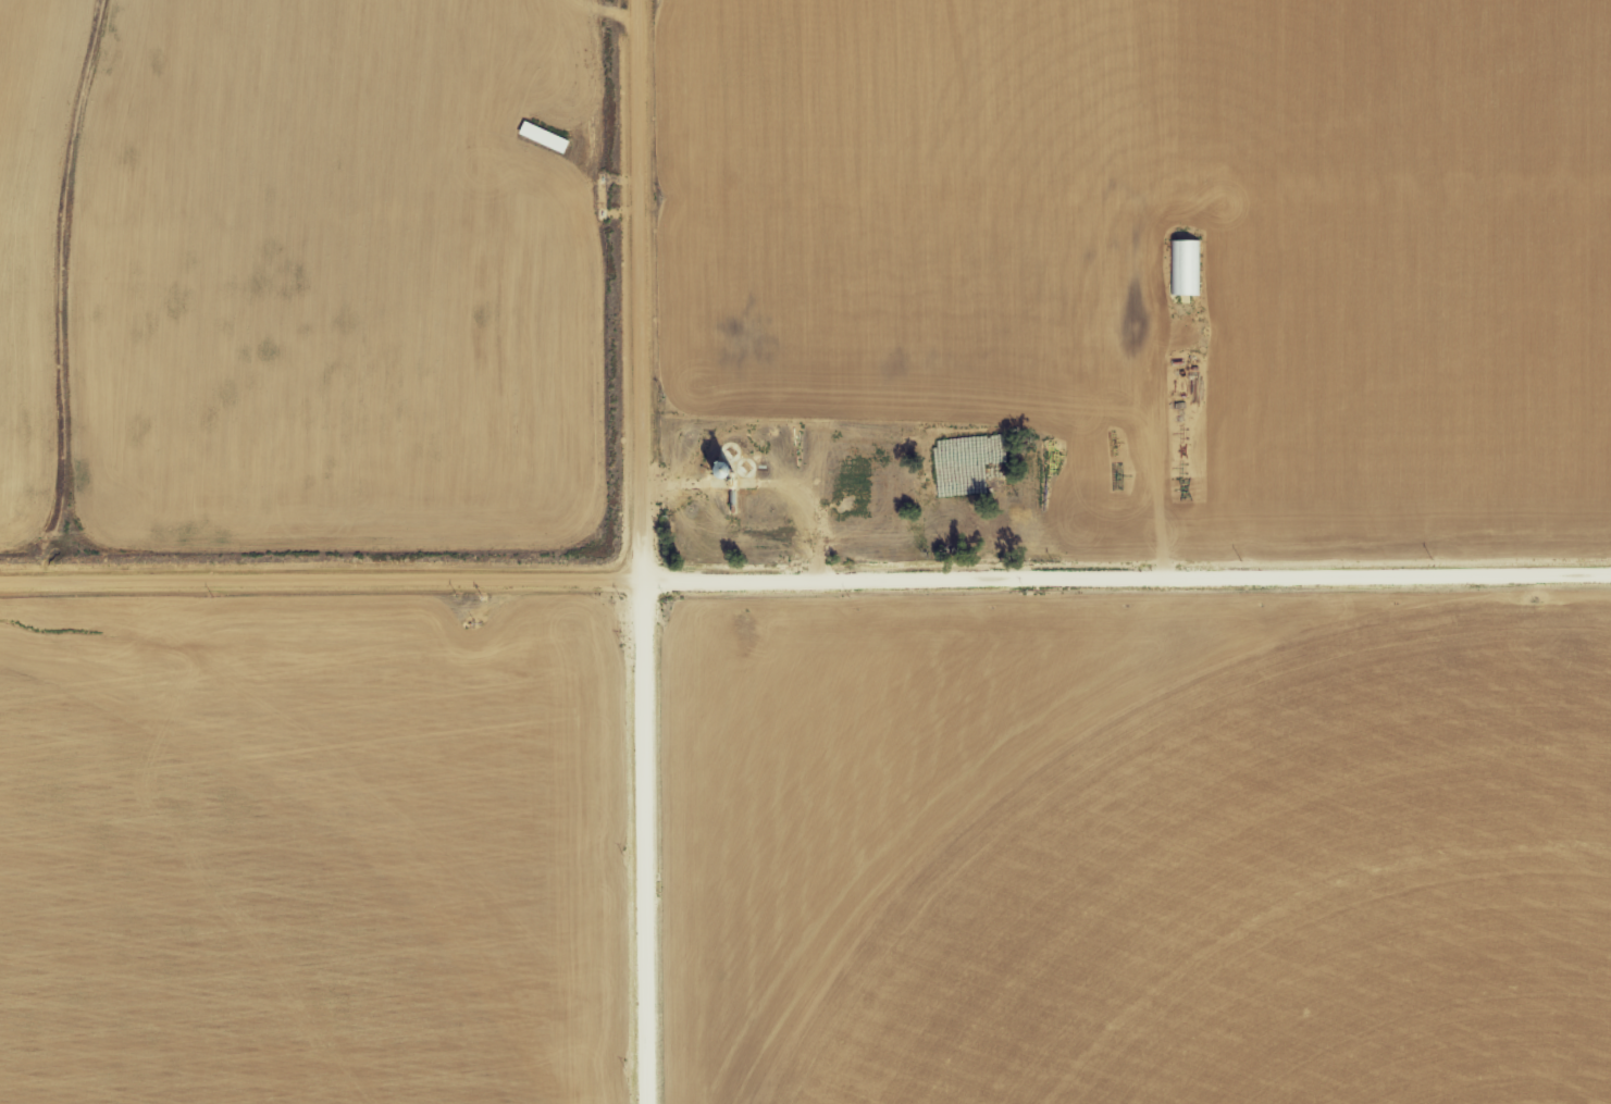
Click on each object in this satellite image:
building: (1187, 266)
road: (1158, 404)
road: (641, 551)
road: (805, 573)

